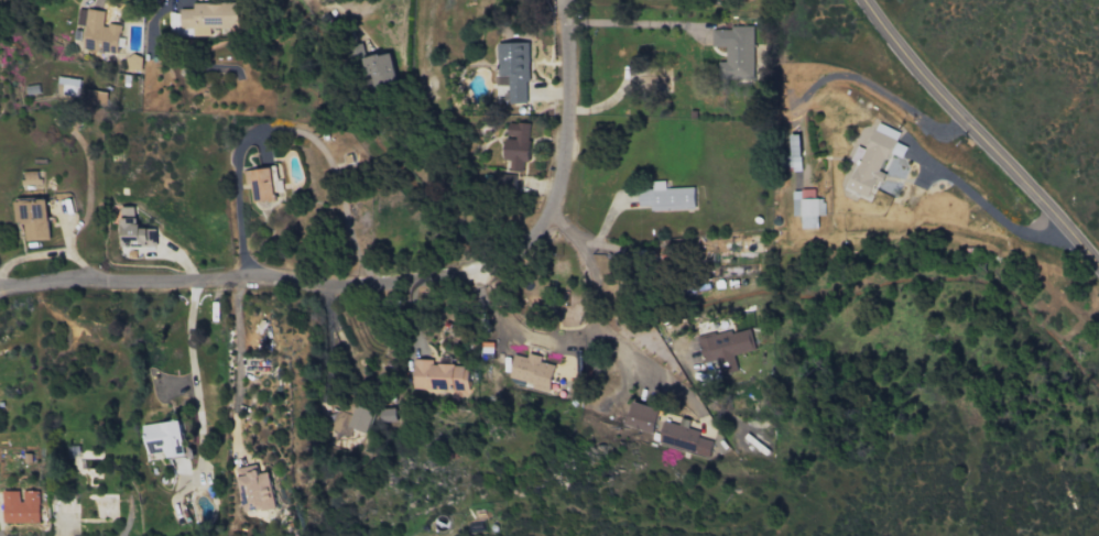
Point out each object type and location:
building: (202, 19)
road: (638, 23)
building: (99, 28)
building: (735, 52)
building: (379, 69)
building: (513, 70)
building: (31, 89)
building: (78, 91)
road: (979, 136)
building: (514, 152)
building: (872, 160)
building: (31, 177)
building: (260, 184)
building: (665, 197)
building: (806, 207)
building: (127, 212)
road: (238, 212)
road: (993, 214)
building: (32, 218)
building: (135, 234)
road: (578, 242)
road: (646, 276)
road: (395, 285)
road: (329, 336)
road: (558, 346)
building: (725, 346)
road: (237, 361)
building: (531, 371)
road: (194, 378)
building: (438, 378)
building: (387, 415)
building: (641, 417)
building: (352, 420)
building: (683, 438)
building: (164, 439)
building: (254, 490)
building: (21, 506)

